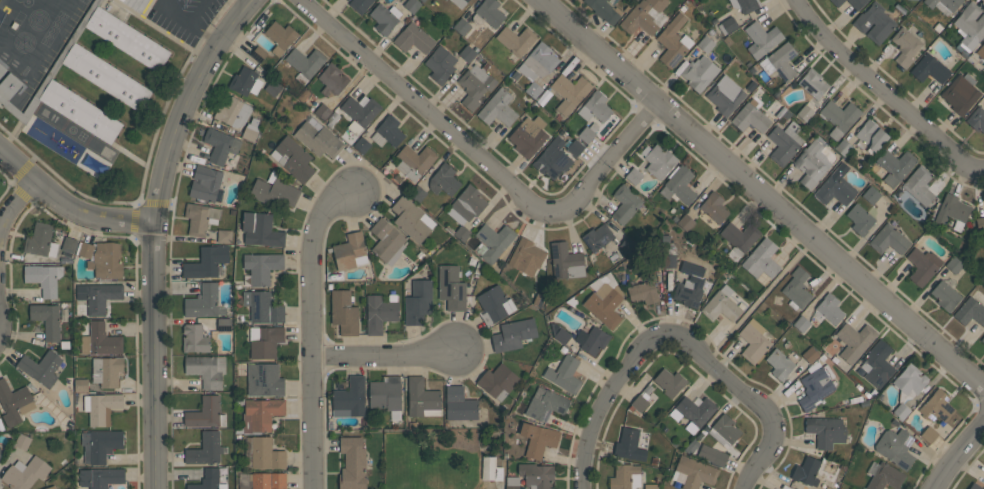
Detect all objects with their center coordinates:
park: (83, 1)
building: (125, 1)
building: (837, 2)
road: (247, 3)
building: (460, 3)
building: (857, 3)
building: (360, 5)
building: (412, 5)
building: (745, 5)
building: (943, 5)
building: (604, 10)
building: (488, 13)
building: (643, 16)
parking lot: (183, 17)
building: (383, 19)
building: (874, 23)
building: (728, 25)
building: (970, 25)
road: (192, 26)
building: (461, 26)
building: (280, 37)
building: (126, 38)
building: (413, 39)
building: (761, 39)
building: (516, 40)
building: (673, 42)
building: (705, 44)
building: (905, 46)
building: (981, 51)
building: (467, 53)
building: (258, 54)
building: (783, 61)
building: (538, 62)
building: (305, 63)
building: (440, 64)
building: (2, 69)
building: (929, 69)
building: (699, 73)
building: (106, 76)
building: (332, 80)
building: (245, 81)
building: (813, 83)
building: (475, 85)
building: (8, 87)
building: (273, 88)
building: (533, 90)
building: (570, 92)
road: (882, 92)
building: (960, 94)
building: (725, 95)
building: (595, 107)
building: (498, 109)
building: (80, 111)
building: (322, 111)
building: (233, 112)
building: (359, 113)
building: (805, 113)
building: (751, 117)
building: (839, 117)
building: (976, 119)
building: (388, 131)
building: (250, 132)
building: (588, 132)
park: (81, 136)
building: (529, 136)
building: (871, 136)
building: (318, 140)
building: (784, 142)
building: (220, 145)
building: (361, 145)
building: (843, 147)
building: (575, 148)
building: (553, 158)
building: (293, 159)
road: (483, 159)
building: (658, 160)
building: (415, 161)
building: (812, 162)
building: (895, 165)
building: (634, 176)
building: (444, 180)
building: (205, 183)
building: (678, 185)
building: (919, 185)
building: (836, 186)
building: (275, 190)
building: (417, 193)
road: (763, 194)
building: (870, 195)
road: (70, 203)
building: (625, 203)
road: (15, 204)
building: (467, 205)
building: (714, 207)
building: (952, 211)
building: (201, 218)
building: (860, 219)
building: (412, 220)
building: (686, 222)
building: (980, 225)
building: (261, 230)
road: (156, 231)
building: (461, 233)
building: (224, 236)
building: (597, 237)
building: (890, 238)
building: (739, 239)
building: (40, 240)
building: (387, 241)
building: (493, 241)
building: (68, 246)
building: (628, 246)
building: (85, 249)
building: (350, 252)
building: (526, 257)
building: (761, 260)
building: (106, 261)
building: (565, 261)
building: (206, 262)
building: (954, 264)
building: (922, 265)
building: (261, 267)
building: (44, 278)
building: (689, 286)
building: (451, 288)
building: (797, 288)
building: (643, 292)
building: (945, 295)
building: (98, 296)
building: (204, 302)
building: (418, 302)
building: (605, 304)
building: (494, 305)
building: (721, 305)
building: (262, 307)
building: (829, 309)
building: (381, 312)
building: (970, 312)
building: (344, 313)
building: (47, 320)
building: (801, 323)
building: (224, 324)
road: (314, 331)
building: (559, 333)
building: (513, 335)
road: (681, 336)
building: (195, 338)
building: (982, 339)
building: (100, 340)
building: (592, 340)
building: (264, 341)
building: (753, 341)
building: (855, 341)
road: (382, 355)
building: (810, 355)
building: (877, 363)
building: (780, 364)
building: (41, 368)
building: (206, 370)
building: (106, 371)
building: (564, 374)
building: (264, 379)
building: (497, 381)
building: (670, 382)
building: (909, 382)
building: (816, 385)
building: (386, 395)
building: (349, 399)
building: (422, 399)
building: (14, 403)
building: (639, 403)
building: (459, 404)
building: (545, 404)
building: (936, 406)
building: (100, 408)
building: (901, 411)
building: (693, 412)
building: (206, 413)
building: (261, 414)
building: (724, 430)
building: (826, 431)
building: (928, 434)
building: (537, 439)
building: (22, 441)
building: (100, 444)
building: (629, 445)
building: (896, 447)
building: (207, 449)
building: (263, 453)
building: (0, 454)
building: (712, 455)
road: (960, 456)
building: (352, 463)
building: (488, 470)
building: (806, 471)
building: (693, 472)
building: (25, 473)
building: (536, 475)
building: (100, 477)
building: (625, 477)
building: (885, 477)
building: (209, 480)
building: (262, 481)
building: (512, 482)
building: (650, 486)
building: (975, 486)
building: (51, 487)
building: (828, 487)

